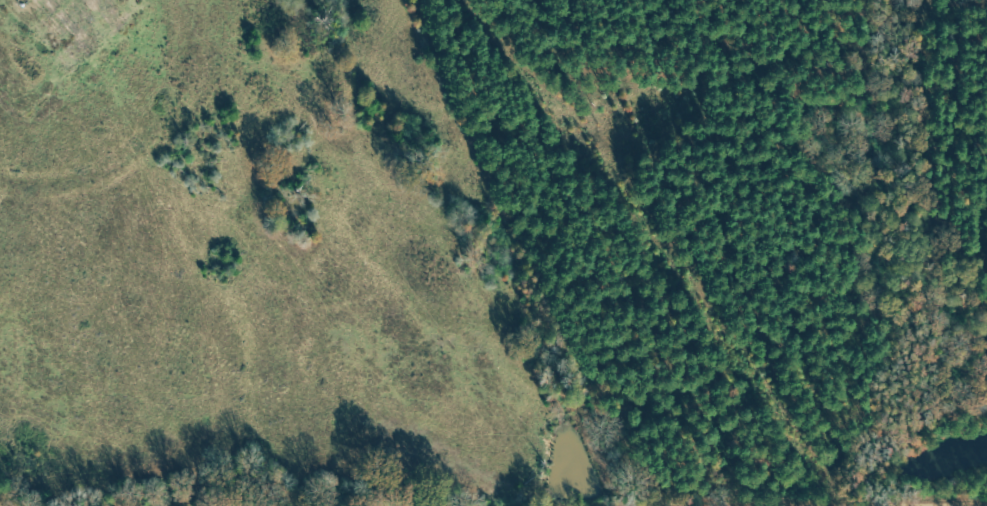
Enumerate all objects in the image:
road: (745, 499)

